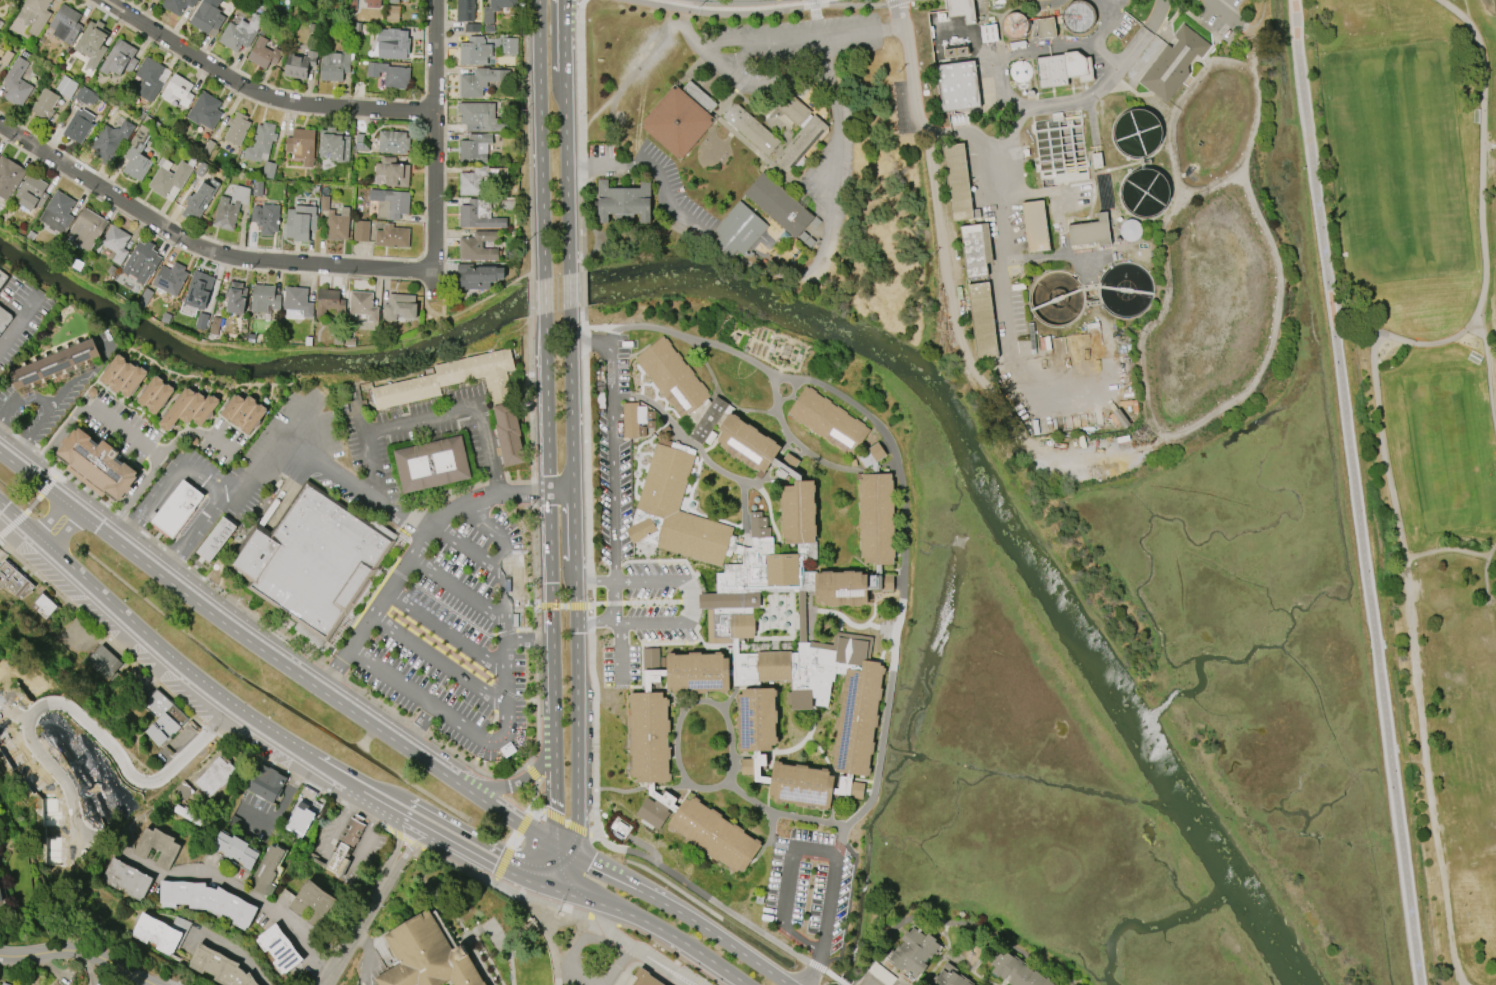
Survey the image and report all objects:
building: (154, 0)
road: (736, 0)
building: (393, 1)
building: (373, 3)
building: (176, 5)
road: (740, 7)
building: (495, 8)
building: (961, 9)
building: (464, 10)
road: (766, 11)
building: (38, 14)
building: (391, 14)
road: (1227, 14)
parking lot: (1226, 16)
building: (207, 17)
building: (1078, 17)
road: (815, 18)
road: (1259, 18)
building: (65, 23)
building: (1014, 25)
building: (1045, 27)
building: (472, 28)
building: (489, 28)
building: (240, 33)
building: (988, 33)
road: (1095, 34)
road: (808, 36)
road: (710, 42)
building: (92, 43)
building: (393, 43)
road: (651, 44)
building: (508, 45)
building: (474, 51)
building: (262, 53)
road: (1011, 53)
building: (5, 57)
road: (713, 57)
building: (119, 58)
building: (1173, 63)
building: (299, 64)
building: (335, 65)
building: (1063, 68)
building: (1020, 71)
building: (389, 74)
building: (150, 78)
road: (775, 79)
building: (479, 81)
building: (16, 83)
building: (957, 85)
building: (66, 87)
building: (178, 90)
road: (254, 93)
building: (44, 105)
building: (205, 110)
building: (80, 115)
building: (679, 116)
building: (481, 117)
building: (236, 128)
building: (751, 128)
building: (798, 132)
road: (580, 134)
road: (563, 135)
road: (527, 139)
road: (539, 139)
road: (1005, 139)
building: (110, 140)
building: (260, 141)
building: (360, 142)
building: (393, 142)
building: (333, 144)
building: (301, 145)
pier: (1489, 145)
road: (434, 147)
road: (443, 148)
building: (474, 148)
building: (136, 154)
building: (1096, 160)
park: (1398, 161)
building: (201, 169)
building: (268, 170)
building: (390, 173)
building: (9, 177)
building: (170, 178)
building: (478, 178)
building: (958, 182)
building: (257, 188)
building: (31, 192)
building: (199, 199)
building: (623, 202)
building: (390, 203)
building: (506, 204)
building: (778, 205)
road: (1481, 206)
building: (230, 207)
road: (932, 210)
building: (58, 212)
building: (478, 214)
building: (266, 218)
building: (335, 220)
building: (300, 222)
building: (1035, 225)
building: (87, 229)
building: (360, 230)
building: (737, 230)
building: (1130, 230)
building: (1090, 231)
building: (30, 235)
building: (392, 236)
building: (116, 243)
building: (478, 246)
road: (201, 247)
building: (975, 249)
road: (200, 256)
building: (141, 261)
building: (2, 275)
building: (478, 275)
road: (782, 275)
building: (170, 278)
road: (581, 286)
building: (198, 290)
road: (569, 290)
building: (235, 297)
road: (530, 297)
building: (264, 298)
road: (542, 298)
building: (297, 300)
building: (329, 302)
building: (362, 305)
building: (400, 306)
road: (442, 306)
road: (427, 308)
building: (3, 316)
road: (18, 319)
building: (201, 320)
building: (982, 320)
road: (1356, 322)
building: (215, 325)
road: (674, 331)
building: (338, 338)
building: (350, 341)
road: (248, 347)
road: (431, 361)
building: (53, 363)
building: (113, 366)
road: (79, 374)
building: (121, 374)
building: (132, 379)
building: (150, 387)
building: (159, 395)
road: (569, 399)
building: (600, 400)
building: (503, 403)
road: (545, 403)
building: (232, 404)
road: (50, 406)
building: (177, 406)
building: (192, 406)
building: (205, 407)
park: (1422, 408)
building: (243, 409)
building: (650, 414)
building: (253, 415)
road: (427, 418)
building: (632, 418)
road: (361, 419)
building: (650, 424)
road: (124, 430)
road: (302, 431)
building: (643, 431)
road: (1381, 439)
park: (1450, 450)
road: (313, 461)
building: (432, 461)
road: (612, 462)
building: (97, 464)
road: (34, 476)
road: (587, 483)
road: (165, 484)
road: (559, 489)
road: (523, 490)
road: (1356, 492)
road: (133, 494)
building: (176, 506)
road: (20, 517)
road: (55, 519)
road: (189, 531)
building: (215, 537)
road: (14, 540)
road: (470, 548)
building: (314, 560)
road: (399, 575)
road: (1485, 578)
building: (14, 580)
road: (593, 580)
road: (617, 580)
road: (904, 586)
road: (459, 590)
road: (689, 599)
road: (614, 600)
road: (688, 601)
road: (651, 602)
road: (612, 603)
road: (549, 604)
road: (595, 604)
building: (729, 604)
road: (560, 605)
building: (43, 606)
road: (460, 614)
road: (596, 621)
road: (448, 633)
parking lot: (457, 636)
road: (530, 641)
road: (262, 647)
road: (620, 652)
road: (575, 656)
road: (464, 661)
building: (102, 662)
road: (440, 662)
road: (189, 671)
road: (509, 703)
building: (162, 716)
road: (87, 721)
road: (495, 724)
road: (420, 727)
road: (228, 739)
road: (442, 747)
road: (553, 764)
road: (526, 765)
road: (1426, 772)
road: (532, 773)
building: (214, 776)
road: (525, 777)
building: (265, 783)
building: (182, 791)
road: (376, 794)
road: (534, 797)
road: (279, 805)
road: (539, 808)
road: (507, 814)
road: (417, 818)
building: (299, 820)
road: (566, 822)
road: (522, 824)
road: (396, 836)
road: (576, 839)
road: (458, 841)
road: (484, 841)
road: (513, 841)
road: (802, 842)
traffic signals: (554, 843)
road: (412, 845)
road: (553, 845)
building: (344, 846)
building: (156, 847)
building: (235, 849)
road: (564, 849)
traffic signals: (576, 856)
road: (502, 862)
traffic signals: (546, 863)
road: (508, 866)
building: (266, 869)
road: (606, 871)
road: (568, 872)
building: (126, 878)
traffic signals: (539, 879)
road: (326, 883)
road: (550, 883)
road: (571, 891)
road: (257, 896)
building: (1, 897)
road: (542, 899)
building: (207, 900)
building: (313, 903)
road: (720, 905)
road: (604, 921)
road: (354, 925)
building: (160, 932)
road: (668, 932)
road: (715, 932)
road: (501, 938)
building: (279, 948)
road: (638, 950)
road: (670, 952)
building: (913, 952)
road: (234, 955)
road: (71, 956)
building: (426, 956)
building: (219, 967)
building: (1015, 970)
road: (812, 971)
building: (645, 977)
building: (947, 977)
building: (4, 983)
road: (870, 983)

